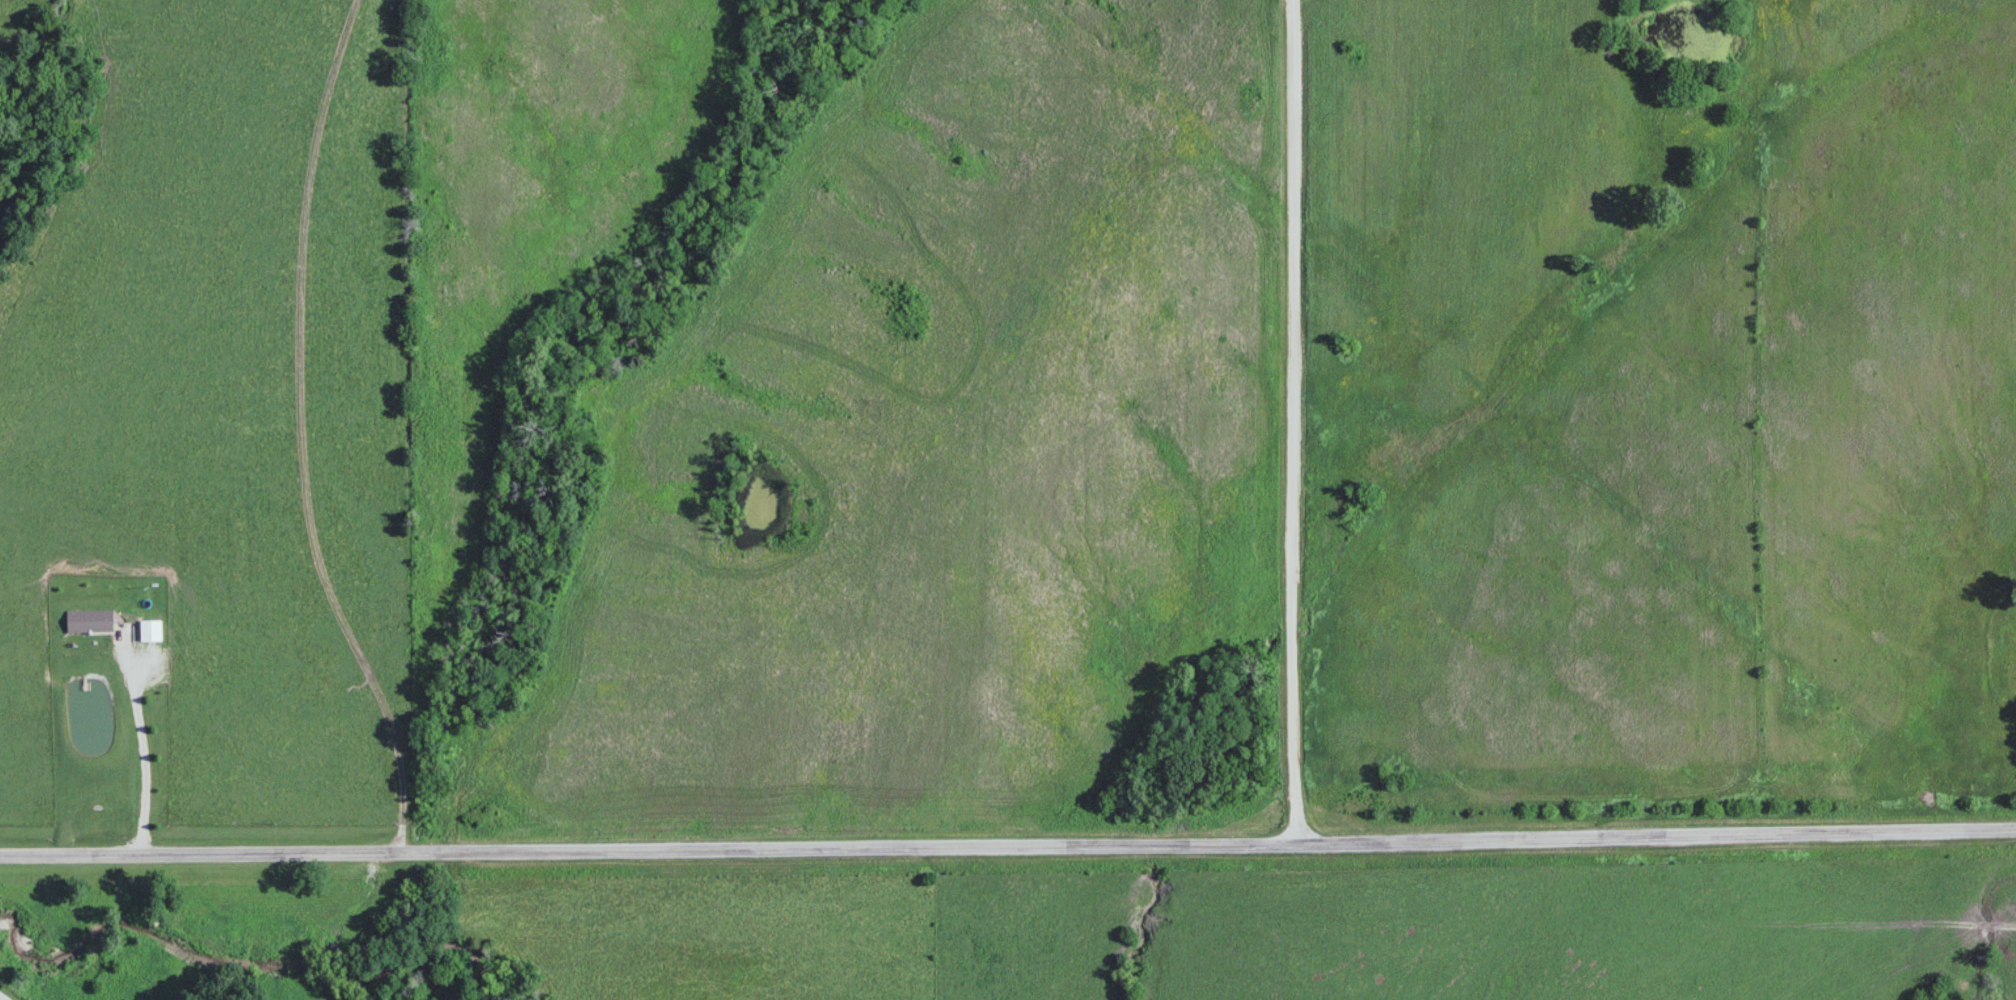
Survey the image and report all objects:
road: (1294, 421)
road: (300, 432)
building: (91, 621)
building: (152, 631)
road: (146, 737)
road: (1008, 845)
road: (5, 996)

